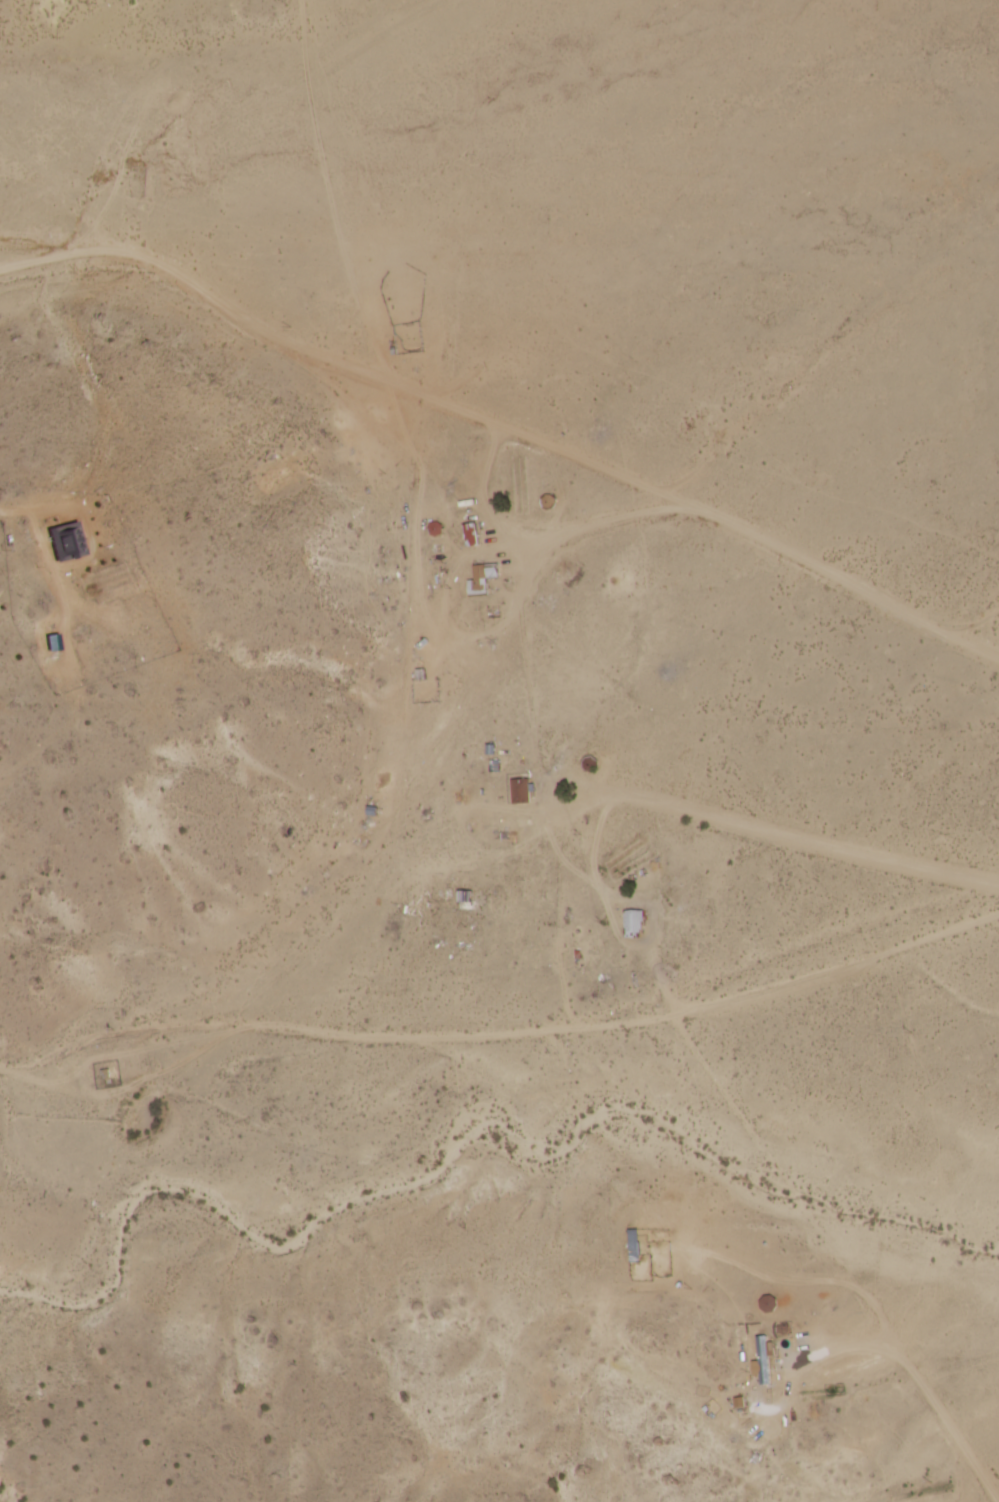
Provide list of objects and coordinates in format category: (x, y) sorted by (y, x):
road: (32, 244)
road: (505, 420)
building: (471, 534)
building: (68, 540)
building: (482, 578)
road: (416, 748)
building: (521, 790)
building: (466, 896)
building: (633, 923)
road: (501, 1031)
building: (633, 1245)
road: (839, 1256)
building: (769, 1303)
building: (763, 1359)

